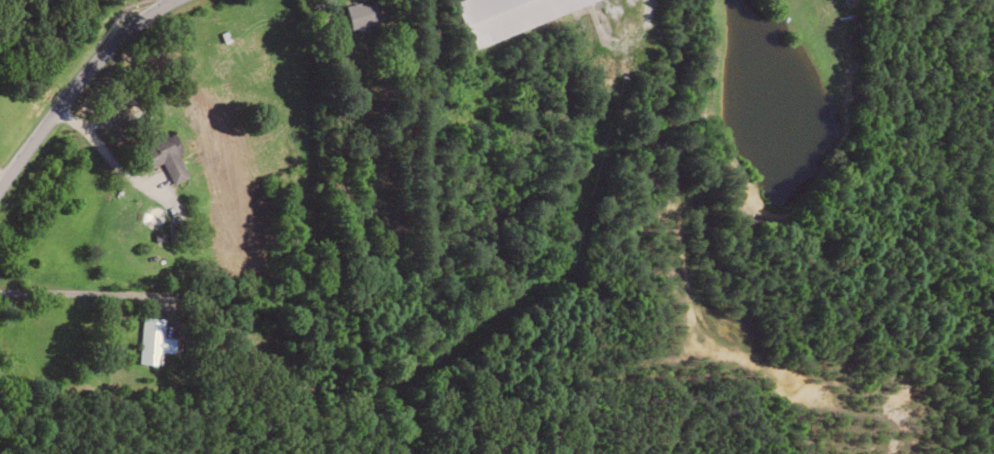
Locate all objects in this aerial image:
building: (362, 14)
building: (507, 15)
road: (82, 92)
building: (165, 158)
building: (153, 342)

